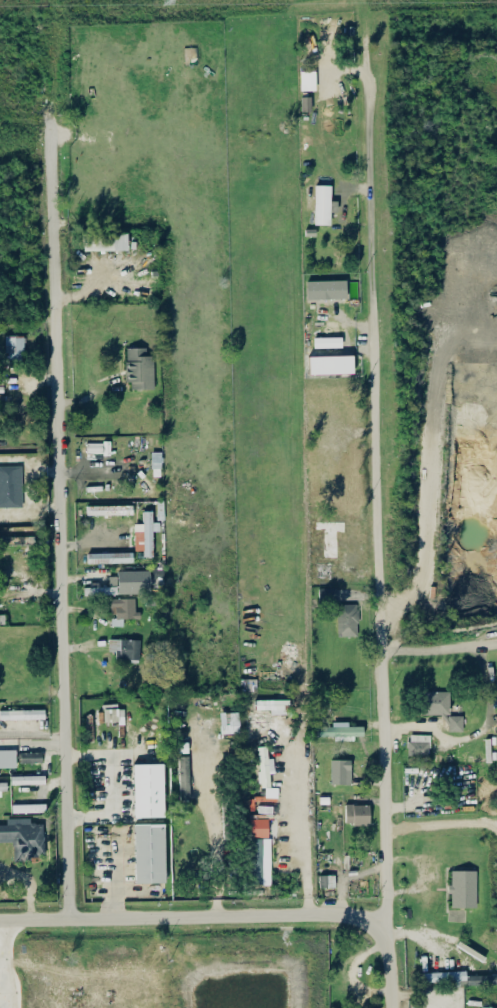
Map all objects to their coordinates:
building: (307, 79)
building: (305, 103)
building: (322, 204)
building: (104, 240)
building: (326, 288)
road: (379, 316)
building: (326, 341)
building: (14, 347)
building: (330, 364)
building: (139, 368)
building: (1, 380)
building: (97, 447)
road: (59, 478)
building: (10, 485)
building: (109, 509)
building: (145, 533)
building: (17, 539)
building: (109, 557)
building: (122, 583)
building: (122, 609)
building: (2, 618)
road: (443, 642)
building: (124, 648)
building: (434, 702)
building: (273, 705)
building: (113, 712)
building: (22, 713)
building: (229, 722)
building: (455, 722)
building: (339, 730)
road: (479, 730)
road: (31, 733)
road: (31, 741)
building: (418, 743)
building: (30, 756)
building: (7, 758)
building: (265, 771)
building: (340, 771)
road: (393, 772)
building: (183, 775)
building: (27, 779)
road: (114, 782)
road: (50, 783)
building: (148, 789)
road: (416, 797)
building: (28, 807)
building: (356, 813)
building: (259, 821)
road: (445, 823)
road: (215, 826)
road: (303, 829)
building: (24, 837)
building: (149, 852)
building: (259, 860)
road: (118, 876)
building: (462, 887)
road: (237, 912)
road: (2, 959)
road: (4, 960)
building: (456, 977)
road: (6, 1000)
building: (489, 1007)

